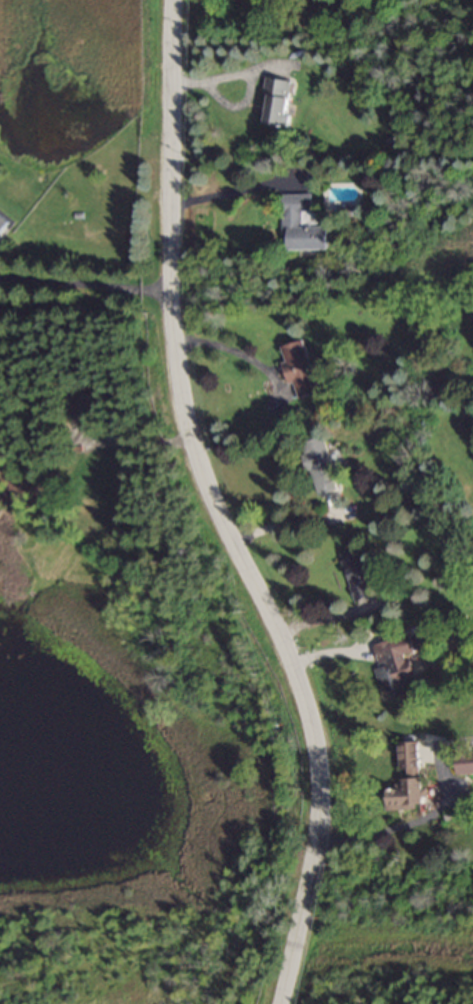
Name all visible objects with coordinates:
building: (278, 104)
road: (231, 193)
building: (294, 220)
building: (3, 225)
road: (86, 283)
road: (238, 349)
building: (301, 371)
building: (323, 469)
road: (223, 510)
building: (359, 579)
building: (395, 666)
building: (466, 763)
building: (411, 779)
road: (399, 828)

